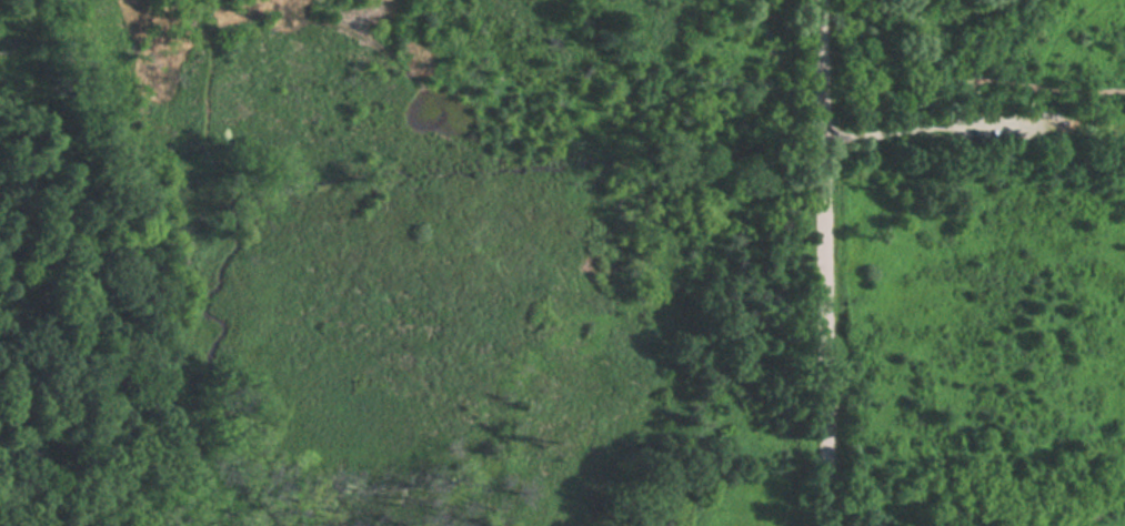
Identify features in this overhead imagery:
road: (825, 263)

